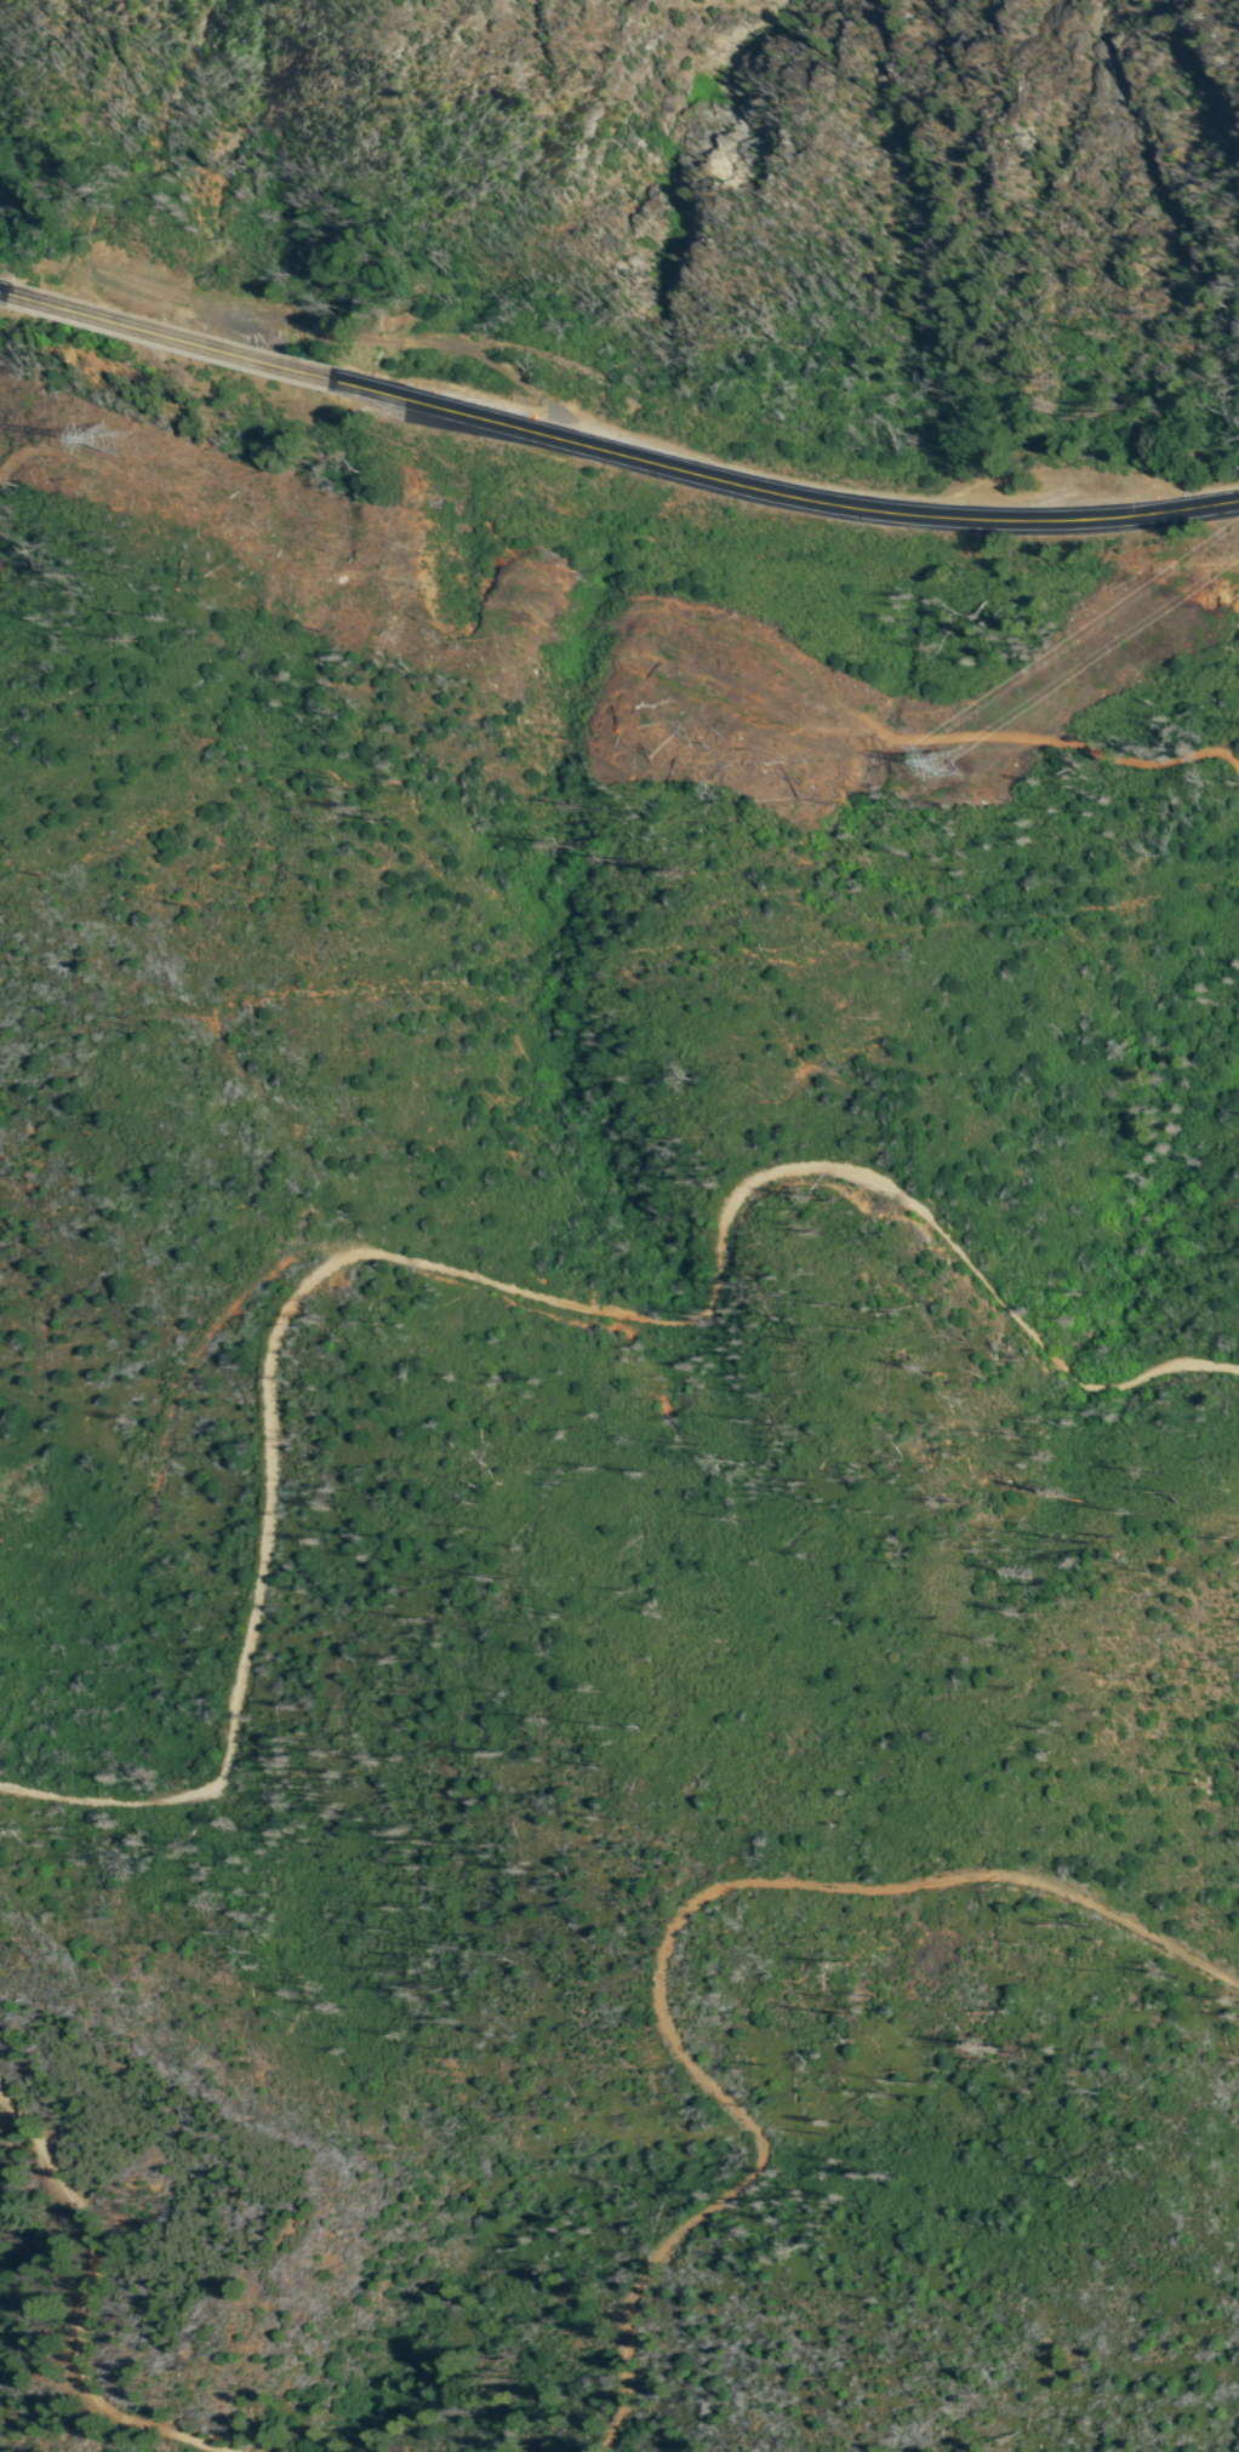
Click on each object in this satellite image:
power tower: (136, 447)
road: (611, 471)
power tower: (947, 764)
road: (472, 1282)
road: (76, 2309)

